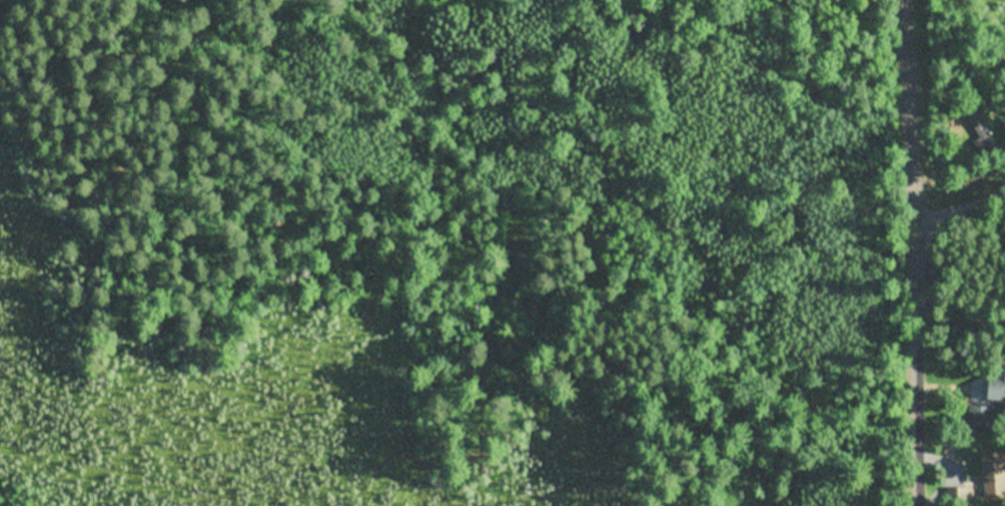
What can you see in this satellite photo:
building: (984, 131)
road: (963, 207)
road: (921, 252)
building: (996, 385)
building: (982, 414)
building: (993, 475)

